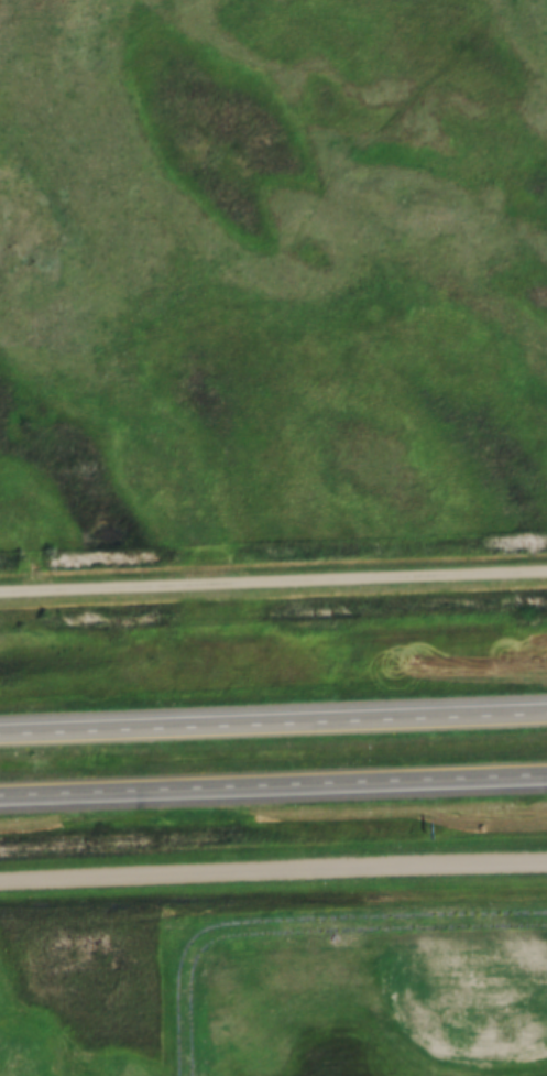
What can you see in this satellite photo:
road: (273, 584)
road: (273, 726)
road: (273, 789)
road: (273, 872)

